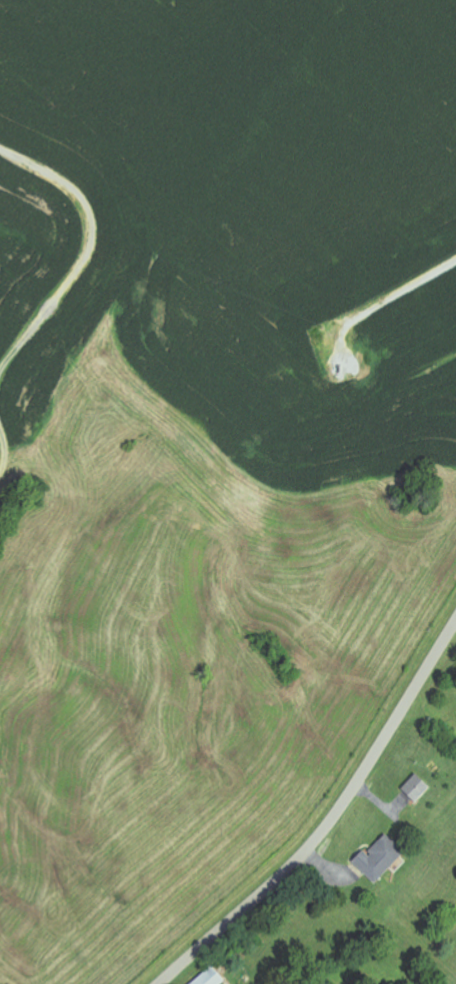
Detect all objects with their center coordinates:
building: (417, 789)
road: (330, 821)
building: (381, 860)
building: (212, 978)

